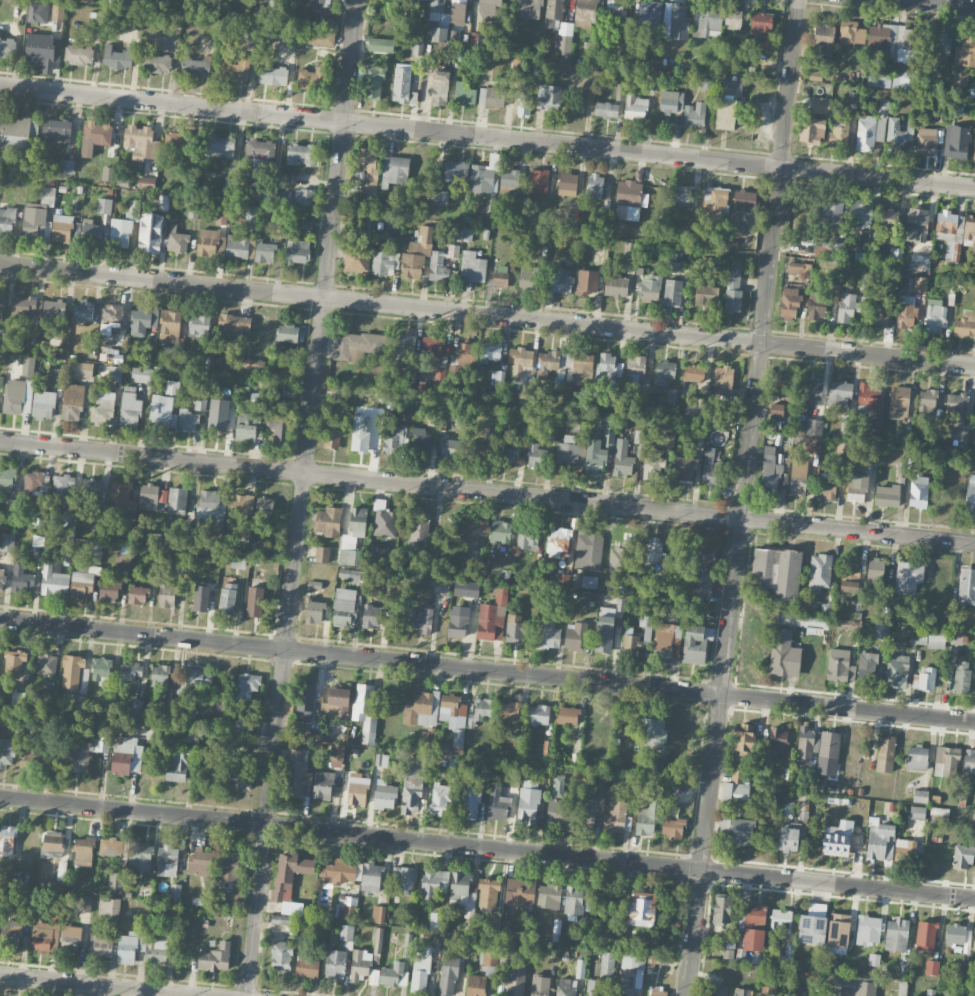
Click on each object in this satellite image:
building: (426, 0)
building: (86, 1)
building: (322, 2)
road: (930, 4)
building: (490, 5)
building: (615, 8)
building: (529, 9)
building: (37, 12)
building: (458, 12)
building: (57, 13)
building: (554, 13)
building: (586, 13)
building: (649, 16)
building: (733, 19)
building: (438, 21)
building: (678, 22)
building: (708, 23)
building: (761, 24)
building: (852, 33)
building: (289, 34)
building: (564, 38)
building: (891, 39)
building: (825, 42)
building: (623, 44)
building: (380, 45)
building: (7, 47)
building: (416, 48)
building: (940, 49)
building: (964, 50)
building: (42, 51)
building: (78, 54)
building: (117, 56)
building: (156, 63)
building: (195, 66)
building: (236, 69)
building: (817, 73)
building: (273, 75)
building: (310, 77)
building: (960, 78)
building: (879, 80)
building: (902, 80)
building: (374, 81)
building: (401, 85)
building: (730, 85)
building: (439, 87)
building: (620, 91)
building: (463, 93)
building: (490, 97)
building: (549, 97)
building: (671, 101)
building: (820, 105)
building: (635, 106)
building: (524, 108)
building: (883, 108)
building: (606, 109)
building: (725, 114)
building: (694, 115)
building: (56, 129)
building: (811, 130)
building: (18, 133)
building: (865, 133)
building: (838, 135)
building: (895, 136)
building: (94, 137)
road: (487, 138)
building: (177, 141)
building: (926, 141)
building: (956, 141)
building: (140, 142)
building: (220, 146)
building: (974, 150)
building: (260, 153)
building: (300, 154)
building: (66, 166)
building: (367, 166)
building: (395, 170)
building: (455, 170)
building: (109, 173)
building: (483, 177)
building: (509, 182)
building: (538, 182)
building: (146, 183)
building: (567, 184)
building: (595, 186)
building: (262, 196)
building: (682, 196)
building: (303, 197)
building: (439, 197)
building: (628, 200)
building: (745, 201)
building: (715, 204)
building: (103, 205)
building: (830, 212)
building: (860, 212)
building: (37, 214)
building: (221, 216)
building: (889, 216)
building: (801, 220)
building: (7, 221)
building: (916, 224)
building: (363, 225)
building: (947, 226)
building: (61, 228)
building: (738, 229)
building: (969, 229)
building: (121, 230)
building: (91, 232)
building: (150, 232)
building: (467, 234)
building: (177, 240)
building: (210, 242)
building: (237, 246)
building: (264, 251)
building: (297, 251)
building: (453, 251)
building: (895, 253)
building: (423, 254)
building: (356, 259)
building: (920, 261)
building: (384, 262)
building: (472, 266)
building: (673, 266)
building: (799, 266)
building: (500, 276)
building: (527, 276)
road: (163, 281)
building: (560, 281)
building: (587, 282)
building: (920, 284)
building: (616, 287)
building: (650, 287)
building: (733, 289)
building: (672, 292)
building: (706, 294)
building: (790, 302)
building: (2, 304)
building: (817, 305)
building: (24, 306)
building: (847, 307)
building: (83, 311)
building: (906, 311)
building: (54, 312)
building: (876, 315)
building: (935, 315)
building: (110, 318)
building: (142, 320)
building: (200, 325)
building: (234, 325)
building: (965, 325)
building: (170, 326)
road: (650, 332)
building: (286, 337)
building: (357, 345)
building: (404, 349)
building: (432, 349)
building: (490, 351)
building: (465, 355)
building: (521, 357)
building: (251, 363)
building: (547, 363)
building: (28, 365)
building: (606, 367)
building: (83, 370)
building: (635, 370)
building: (113, 372)
building: (664, 372)
building: (440, 373)
building: (694, 373)
building: (140, 374)
building: (723, 379)
building: (783, 384)
building: (172, 387)
building: (288, 389)
building: (525, 391)
building: (809, 393)
building: (840, 394)
building: (17, 396)
building: (867, 396)
building: (927, 400)
building: (44, 402)
building: (72, 402)
building: (899, 403)
building: (130, 406)
building: (955, 406)
building: (777, 410)
building: (102, 411)
building: (162, 411)
building: (702, 411)
building: (218, 414)
building: (434, 416)
building: (187, 420)
building: (246, 425)
building: (814, 427)
building: (362, 429)
building: (280, 430)
building: (394, 438)
building: (332, 439)
building: (666, 439)
building: (812, 444)
building: (453, 447)
building: (600, 447)
building: (842, 448)
building: (480, 452)
building: (568, 453)
building: (871, 454)
building: (507, 455)
building: (536, 455)
building: (622, 458)
building: (653, 466)
building: (711, 467)
building: (684, 468)
building: (770, 469)
building: (827, 482)
building: (62, 487)
building: (91, 487)
building: (857, 489)
building: (891, 491)
building: (918, 492)
road: (487, 493)
building: (119, 497)
building: (148, 498)
road: (303, 498)
road: (745, 498)
building: (177, 500)
building: (264, 507)
building: (211, 509)
building: (241, 514)
building: (384, 520)
building: (328, 521)
building: (357, 521)
building: (4, 522)
building: (96, 523)
building: (66, 524)
building: (419, 529)
building: (472, 531)
building: (500, 532)
building: (155, 538)
building: (527, 540)
building: (182, 541)
building: (558, 541)
building: (7, 542)
building: (212, 544)
building: (258, 547)
building: (587, 548)
building: (653, 552)
building: (96, 554)
building: (321, 554)
building: (475, 557)
building: (65, 558)
building: (346, 558)
building: (123, 560)
building: (429, 560)
building: (180, 564)
building: (701, 569)
building: (875, 571)
building: (819, 572)
building: (777, 573)
building: (908, 576)
building: (21, 578)
building: (850, 578)
building: (2, 579)
building: (563, 579)
building: (54, 581)
building: (585, 581)
building: (82, 584)
building: (314, 584)
building: (441, 585)
building: (966, 586)
building: (109, 588)
building: (466, 588)
building: (137, 594)
building: (166, 595)
building: (200, 598)
building: (228, 598)
building: (254, 601)
building: (343, 606)
building: (314, 612)
building: (371, 615)
building: (492, 617)
building: (923, 618)
building: (420, 620)
building: (458, 621)
building: (813, 625)
building: (646, 627)
building: (515, 629)
building: (881, 630)
building: (548, 634)
building: (604, 634)
building: (575, 635)
building: (921, 636)
building: (955, 636)
building: (936, 639)
building: (665, 643)
building: (631, 644)
building: (695, 644)
building: (784, 654)
building: (14, 663)
building: (47, 664)
building: (839, 665)
building: (867, 665)
building: (100, 670)
building: (71, 671)
building: (130, 671)
road: (487, 671)
building: (897, 672)
building: (159, 675)
building: (962, 677)
building: (926, 678)
building: (192, 680)
building: (247, 685)
building: (306, 702)
building: (336, 704)
building: (135, 709)
building: (421, 709)
building: (484, 709)
building: (365, 711)
building: (509, 711)
building: (539, 715)
building: (568, 715)
building: (454, 717)
building: (241, 725)
building: (654, 732)
building: (185, 736)
building: (744, 740)
building: (778, 740)
building: (807, 745)
building: (87, 751)
building: (7, 752)
building: (828, 753)
building: (885, 754)
building: (126, 755)
building: (337, 755)
building: (917, 757)
building: (946, 761)
building: (969, 761)
building: (178, 764)
building: (650, 769)
building: (297, 774)
building: (236, 777)
building: (596, 778)
building: (323, 784)
building: (412, 785)
building: (677, 786)
building: (736, 788)
building: (357, 789)
building: (384, 795)
building: (920, 796)
building: (440, 799)
building: (528, 800)
building: (469, 802)
building: (497, 803)
building: (577, 811)
building: (939, 811)
building: (917, 812)
building: (974, 817)
building: (617, 818)
building: (647, 819)
building: (673, 827)
building: (738, 830)
building: (789, 836)
building: (837, 839)
building: (7, 840)
building: (880, 840)
building: (52, 844)
road: (487, 846)
building: (111, 847)
building: (905, 848)
building: (82, 850)
building: (140, 856)
building: (963, 857)
building: (167, 860)
building: (200, 861)
building: (228, 867)
building: (61, 870)
building: (353, 873)
building: (288, 875)
building: (10, 878)
building: (405, 879)
building: (433, 884)
building: (175, 891)
building: (522, 892)
building: (488, 893)
building: (462, 894)
building: (549, 896)
building: (229, 898)
building: (578, 899)
building: (85, 903)
building: (109, 906)
building: (346, 909)
building: (642, 909)
building: (722, 909)
building: (378, 914)
building: (436, 920)
building: (781, 921)
building: (813, 924)
building: (754, 926)
building: (867, 929)
building: (511, 930)
building: (346, 932)
building: (11, 933)
building: (838, 933)
building: (897, 934)
building: (955, 934)
building: (926, 935)
building: (43, 936)
building: (70, 937)
building: (974, 942)
building: (377, 943)
building: (99, 944)
building: (407, 946)
building: (127, 948)
building: (156, 950)
building: (787, 954)
building: (281, 955)
building: (215, 957)
building: (490, 959)
building: (633, 960)
building: (653, 961)
building: (335, 964)
building: (505, 964)
building: (360, 965)
building: (607, 965)
building: (307, 967)
building: (932, 967)
building: (580, 968)
building: (421, 970)
building: (448, 973)
building: (394, 975)
building: (374, 977)
building: (515, 982)
road: (103, 985)
building: (476, 985)
building: (540, 985)
building: (857, 987)
building: (565, 988)
building: (596, 988)
building: (715, 990)
building: (625, 991)
building: (657, 991)
building: (900, 991)
building: (742, 992)
building: (931, 992)

